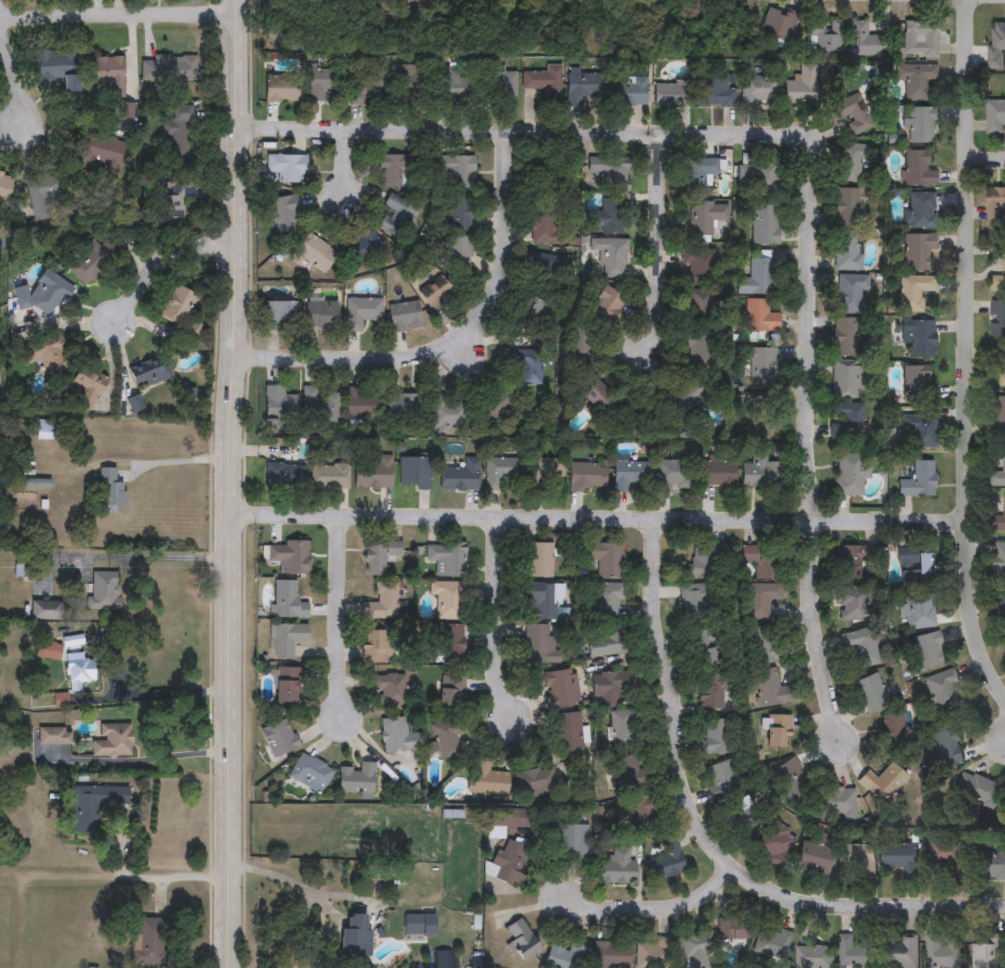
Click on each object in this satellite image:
building: (401, 3)
road: (120, 15)
building: (777, 24)
building: (825, 37)
building: (870, 38)
building: (920, 39)
building: (996, 46)
road: (9, 57)
building: (169, 68)
building: (57, 69)
building: (107, 76)
building: (915, 80)
building: (408, 81)
building: (325, 83)
building: (501, 84)
building: (545, 84)
building: (453, 87)
building: (802, 87)
building: (367, 88)
building: (583, 88)
building: (281, 89)
building: (760, 90)
building: (630, 92)
building: (714, 93)
building: (673, 94)
building: (852, 114)
building: (996, 117)
building: (920, 126)
building: (179, 133)
road: (520, 133)
building: (99, 154)
road: (345, 156)
building: (852, 164)
road: (986, 165)
building: (288, 168)
building: (918, 169)
building: (554, 170)
building: (392, 171)
building: (457, 171)
building: (611, 173)
building: (699, 175)
building: (758, 178)
building: (5, 189)
building: (46, 195)
building: (175, 201)
building: (996, 205)
building: (848, 208)
building: (460, 212)
building: (922, 212)
building: (285, 214)
building: (396, 216)
building: (607, 218)
building: (706, 218)
building: (765, 225)
building: (543, 226)
road: (660, 242)
building: (363, 248)
building: (847, 251)
building: (917, 252)
road: (164, 253)
building: (461, 254)
building: (315, 255)
building: (611, 257)
building: (91, 262)
building: (698, 267)
building: (757, 278)
building: (998, 280)
building: (915, 293)
building: (536, 294)
building: (850, 294)
building: (46, 296)
building: (437, 297)
building: (177, 306)
building: (607, 307)
building: (700, 308)
building: (361, 312)
building: (278, 315)
building: (320, 316)
building: (404, 316)
building: (760, 317)
building: (997, 319)
building: (192, 333)
building: (846, 338)
building: (919, 339)
building: (579, 347)
building: (699, 348)
road: (462, 353)
road: (964, 353)
building: (48, 356)
building: (999, 363)
building: (762, 366)
building: (529, 369)
building: (148, 373)
building: (847, 381)
building: (919, 386)
building: (87, 387)
building: (594, 395)
building: (686, 396)
building: (279, 403)
building: (319, 404)
building: (363, 404)
building: (134, 405)
building: (495, 405)
building: (405, 407)
building: (449, 416)
building: (772, 416)
building: (999, 417)
building: (847, 422)
building: (47, 430)
building: (920, 431)
road: (808, 437)
road: (186, 462)
building: (498, 471)
building: (414, 473)
building: (629, 473)
building: (718, 473)
building: (374, 474)
building: (852, 474)
building: (760, 475)
building: (284, 476)
building: (459, 476)
building: (548, 476)
building: (672, 476)
building: (330, 477)
building: (998, 477)
building: (587, 478)
building: (920, 482)
road: (233, 483)
building: (36, 484)
building: (110, 491)
road: (599, 518)
building: (1000, 521)
building: (1000, 555)
road: (139, 557)
building: (380, 557)
building: (290, 558)
building: (606, 559)
building: (447, 560)
building: (539, 561)
building: (703, 562)
building: (854, 562)
building: (765, 565)
building: (917, 588)
building: (102, 591)
building: (447, 600)
building: (760, 600)
building: (287, 601)
building: (541, 601)
building: (610, 602)
building: (382, 603)
building: (697, 603)
building: (1003, 604)
building: (853, 607)
building: (46, 612)
road: (498, 619)
road: (338, 624)
building: (287, 640)
building: (607, 642)
building: (449, 644)
building: (540, 646)
building: (763, 646)
building: (378, 648)
building: (863, 648)
building: (704, 649)
building: (47, 652)
building: (928, 652)
building: (75, 672)
building: (286, 687)
building: (609, 687)
building: (772, 689)
building: (560, 690)
building: (390, 691)
building: (943, 691)
building: (712, 692)
building: (452, 694)
road: (155, 695)
building: (872, 695)
building: (623, 728)
building: (779, 732)
building: (893, 734)
building: (569, 736)
building: (54, 737)
building: (398, 737)
building: (716, 737)
building: (279, 739)
building: (448, 740)
building: (112, 741)
building: (945, 748)
road: (137, 760)
building: (311, 774)
building: (632, 774)
building: (721, 778)
building: (357, 779)
building: (488, 780)
building: (791, 780)
building: (534, 782)
building: (882, 782)
building: (979, 791)
building: (841, 804)
building: (94, 806)
building: (642, 810)
building: (743, 817)
road: (704, 839)
building: (774, 843)
building: (574, 844)
building: (816, 857)
building: (899, 858)
building: (856, 859)
building: (666, 862)
building: (941, 862)
building: (509, 863)
building: (990, 866)
building: (617, 867)
road: (138, 877)
road: (293, 883)
road: (647, 909)
building: (419, 926)
building: (735, 930)
building: (354, 940)
building: (151, 942)
building: (522, 942)
building: (774, 946)
building: (698, 947)
building: (856, 952)
building: (943, 953)
building: (988, 953)
building: (653, 954)
building: (900, 954)
building: (611, 955)
building: (566, 957)
building: (816, 958)
building: (441, 960)

